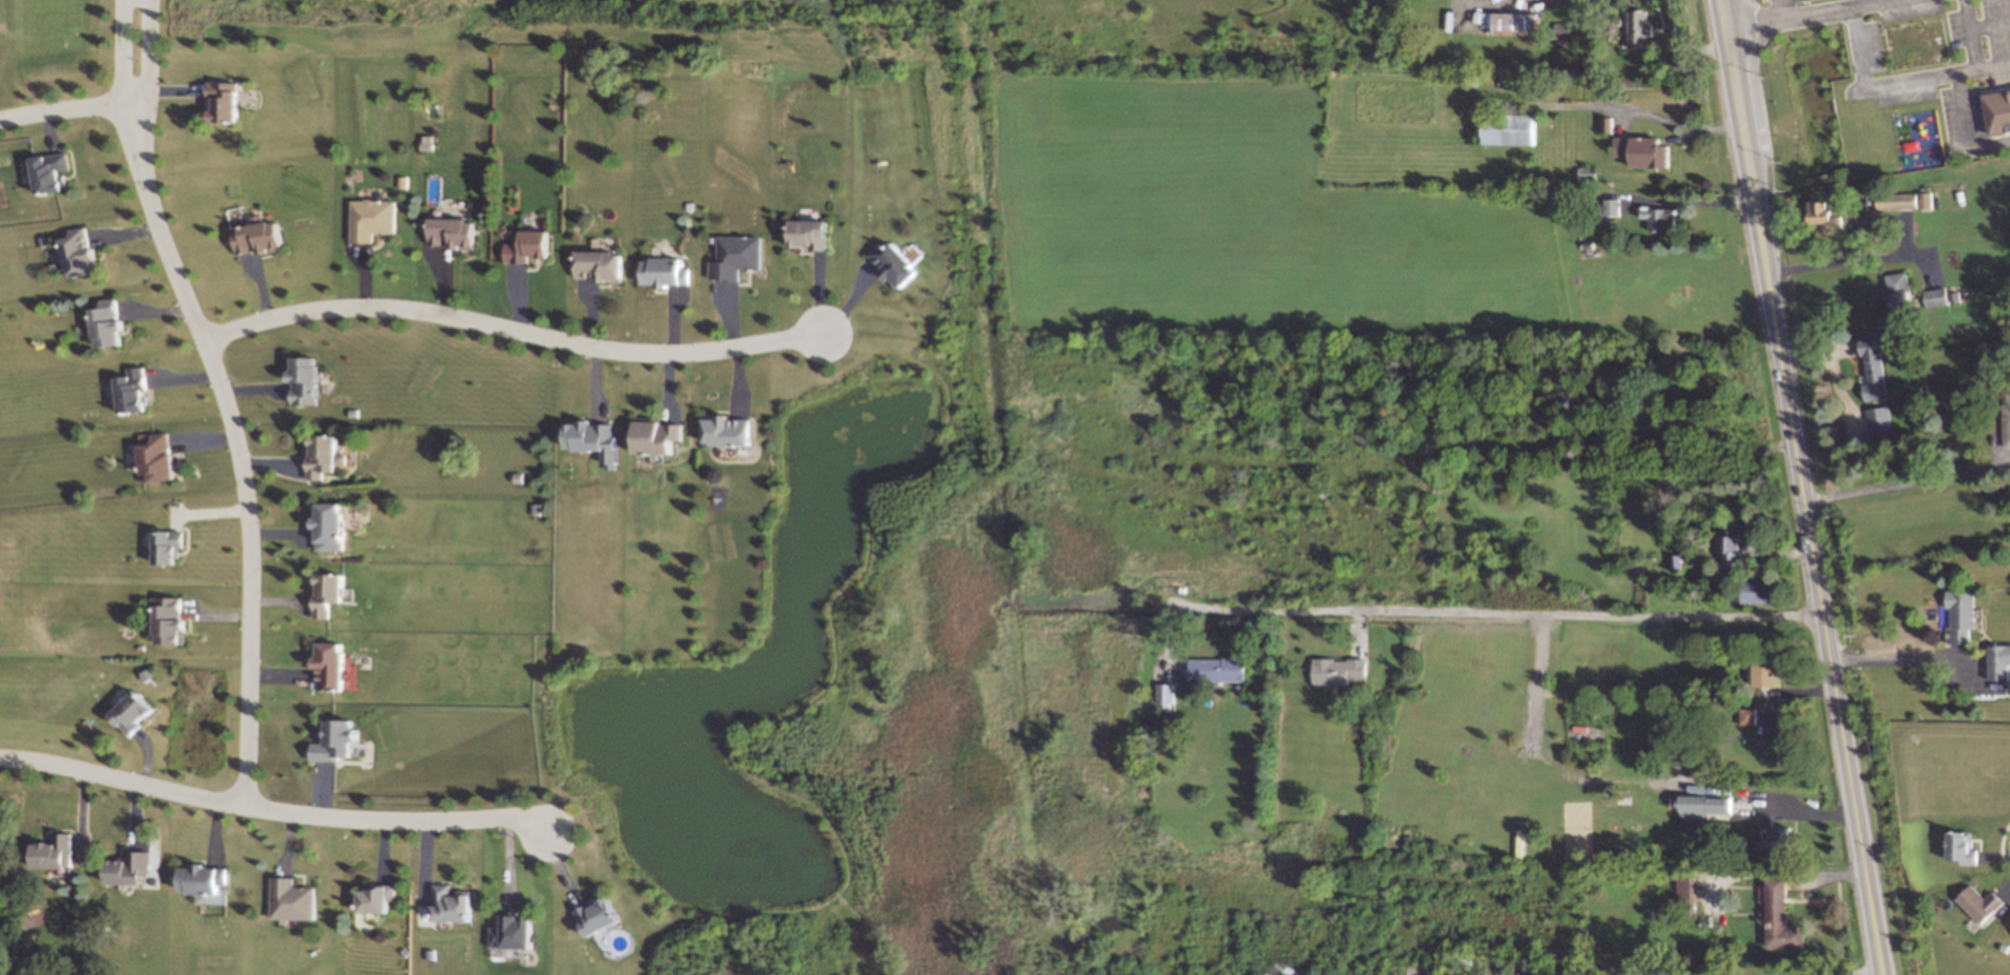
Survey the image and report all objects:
gas station: (1768, 1)
road: (1826, 8)
road: (1762, 20)
building: (1514, 23)
building: (1637, 28)
road: (125, 52)
road: (149, 54)
road: (1993, 62)
road: (1909, 77)
building: (225, 98)
building: (1997, 111)
road: (66, 113)
road: (1965, 126)
building: (1508, 128)
building: (426, 142)
building: (1642, 151)
building: (52, 171)
building: (1896, 200)
building: (1925, 200)
road: (1691, 201)
building: (1611, 206)
building: (374, 213)
building: (1824, 215)
crop: (1247, 217)
building: (1659, 217)
building: (451, 231)
building: (816, 234)
building: (258, 238)
building: (530, 246)
building: (80, 253)
building: (743, 258)
road: (1856, 258)
building: (601, 265)
building: (898, 266)
building: (668, 271)
building: (1899, 292)
building: (1935, 296)
building: (110, 328)
road: (511, 330)
building: (1876, 360)
building: (306, 381)
building: (132, 393)
building: (1878, 420)
building: (2006, 421)
building: (733, 437)
building: (589, 438)
building: (661, 438)
road: (236, 446)
building: (156, 458)
building: (325, 458)
road: (1900, 482)
road: (1801, 487)
building: (331, 528)
building: (148, 538)
building: (169, 544)
building: (1734, 545)
building: (1756, 591)
building: (333, 594)
road: (1492, 613)
building: (1959, 615)
building: (172, 618)
road: (1889, 658)
building: (1997, 661)
building: (333, 665)
building: (1216, 668)
building: (1336, 670)
building: (1764, 673)
building: (1163, 696)
building: (137, 711)
building: (1746, 715)
building: (339, 740)
building: (1703, 806)
road: (275, 808)
building: (1961, 847)
building: (58, 854)
building: (133, 868)
building: (208, 880)
building: (1685, 889)
building: (379, 896)
building: (295, 900)
building: (1979, 903)
building: (455, 904)
building: (1779, 917)
building: (601, 919)
building: (514, 931)

